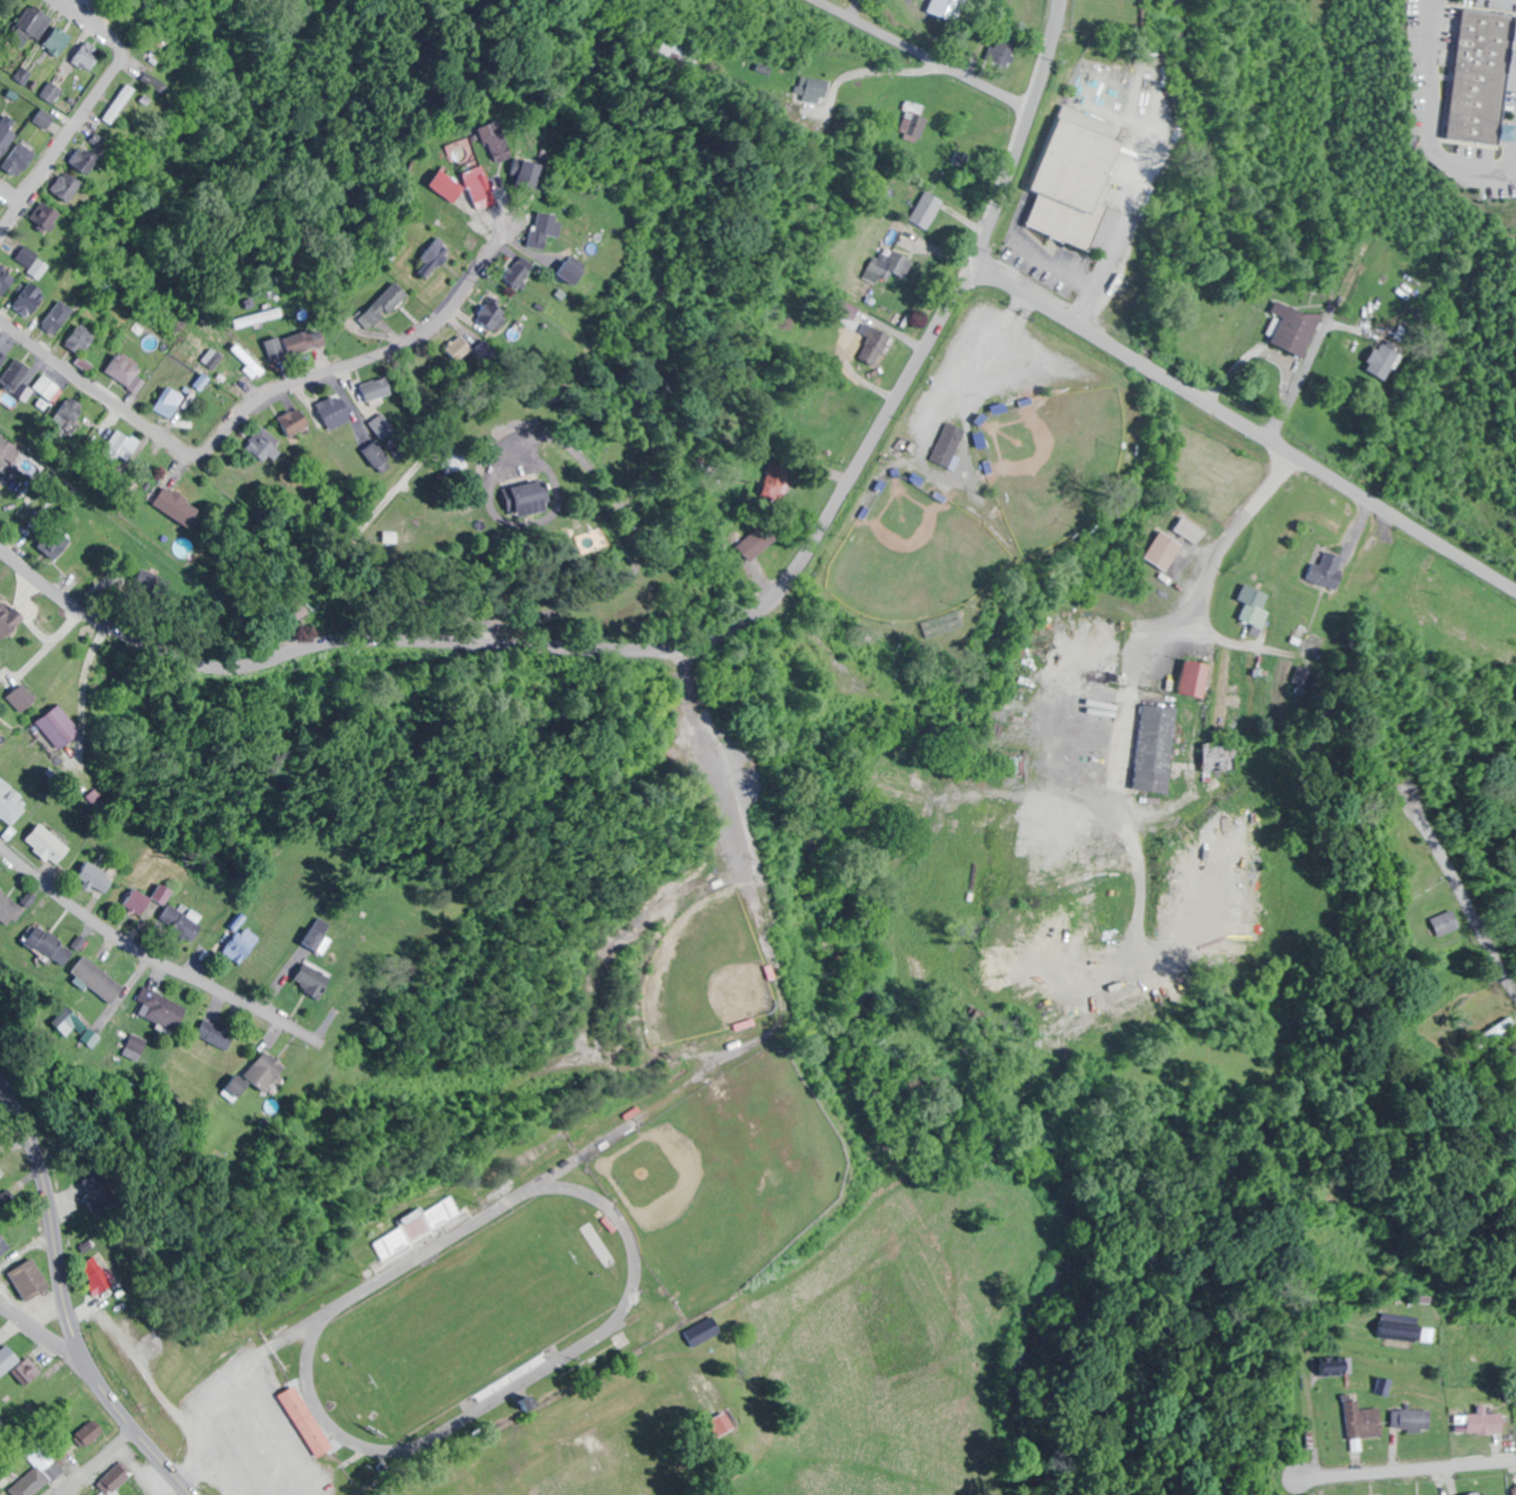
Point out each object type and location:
building: (946, 9)
road: (75, 14)
building: (26, 26)
building: (57, 41)
building: (86, 55)
road: (921, 55)
road: (1331, 64)
building: (1480, 77)
building: (50, 92)
building: (116, 103)
road: (1319, 103)
road: (75, 122)
building: (5, 135)
road: (1018, 135)
road: (1311, 138)
building: (495, 141)
building: (85, 157)
building: (15, 163)
building: (528, 174)
building: (1073, 181)
building: (65, 186)
building: (446, 186)
building: (477, 187)
road: (1315, 187)
road: (9, 196)
building: (925, 209)
building: (45, 215)
building: (544, 228)
road: (1325, 234)
building: (435, 254)
building: (30, 261)
building: (890, 263)
building: (520, 274)
building: (572, 274)
building: (5, 279)
building: (27, 299)
building: (378, 307)
building: (491, 316)
building: (56, 317)
building: (253, 318)
building: (1292, 328)
building: (79, 339)
building: (303, 341)
building: (872, 346)
building: (457, 349)
building: (274, 350)
road: (1311, 350)
building: (1, 358)
building: (244, 361)
building: (1380, 361)
building: (83, 364)
building: (123, 372)
building: (14, 375)
building: (46, 387)
building: (375, 389)
road: (257, 397)
building: (334, 410)
building: (293, 422)
building: (381, 426)
road: (1244, 426)
building: (947, 445)
building: (121, 448)
building: (376, 455)
building: (456, 462)
building: (526, 498)
building: (175, 505)
road: (629, 518)
road: (515, 522)
building: (1188, 530)
building: (52, 547)
building: (1162, 550)
building: (1325, 571)
building: (1252, 606)
building: (4, 623)
road: (567, 648)
building: (1301, 676)
building: (1193, 678)
building: (18, 701)
building: (58, 728)
building: (1154, 749)
building: (1218, 757)
building: (10, 802)
building: (47, 844)
building: (94, 877)
building: (146, 899)
road: (1464, 905)
building: (9, 910)
building: (180, 923)
building: (1443, 923)
building: (317, 935)
building: (47, 943)
building: (238, 943)
road: (144, 954)
building: (98, 980)
building: (311, 981)
building: (160, 1009)
building: (1491, 1032)
building: (216, 1033)
building: (135, 1047)
building: (266, 1071)
building: (239, 1087)
building: (96, 1192)
building: (419, 1225)
building: (3, 1246)
building: (30, 1280)
road: (64, 1303)
building: (1403, 1330)
building: (702, 1331)
road: (41, 1333)
building: (8, 1360)
building: (1334, 1368)
building: (1381, 1387)
building: (1412, 1419)
building: (307, 1421)
building: (1360, 1422)
building: (1481, 1422)
building: (88, 1433)
road: (94, 1461)
road: (1413, 1469)
building: (114, 1480)
building: (1513, 1488)
building: (1479, 1493)

